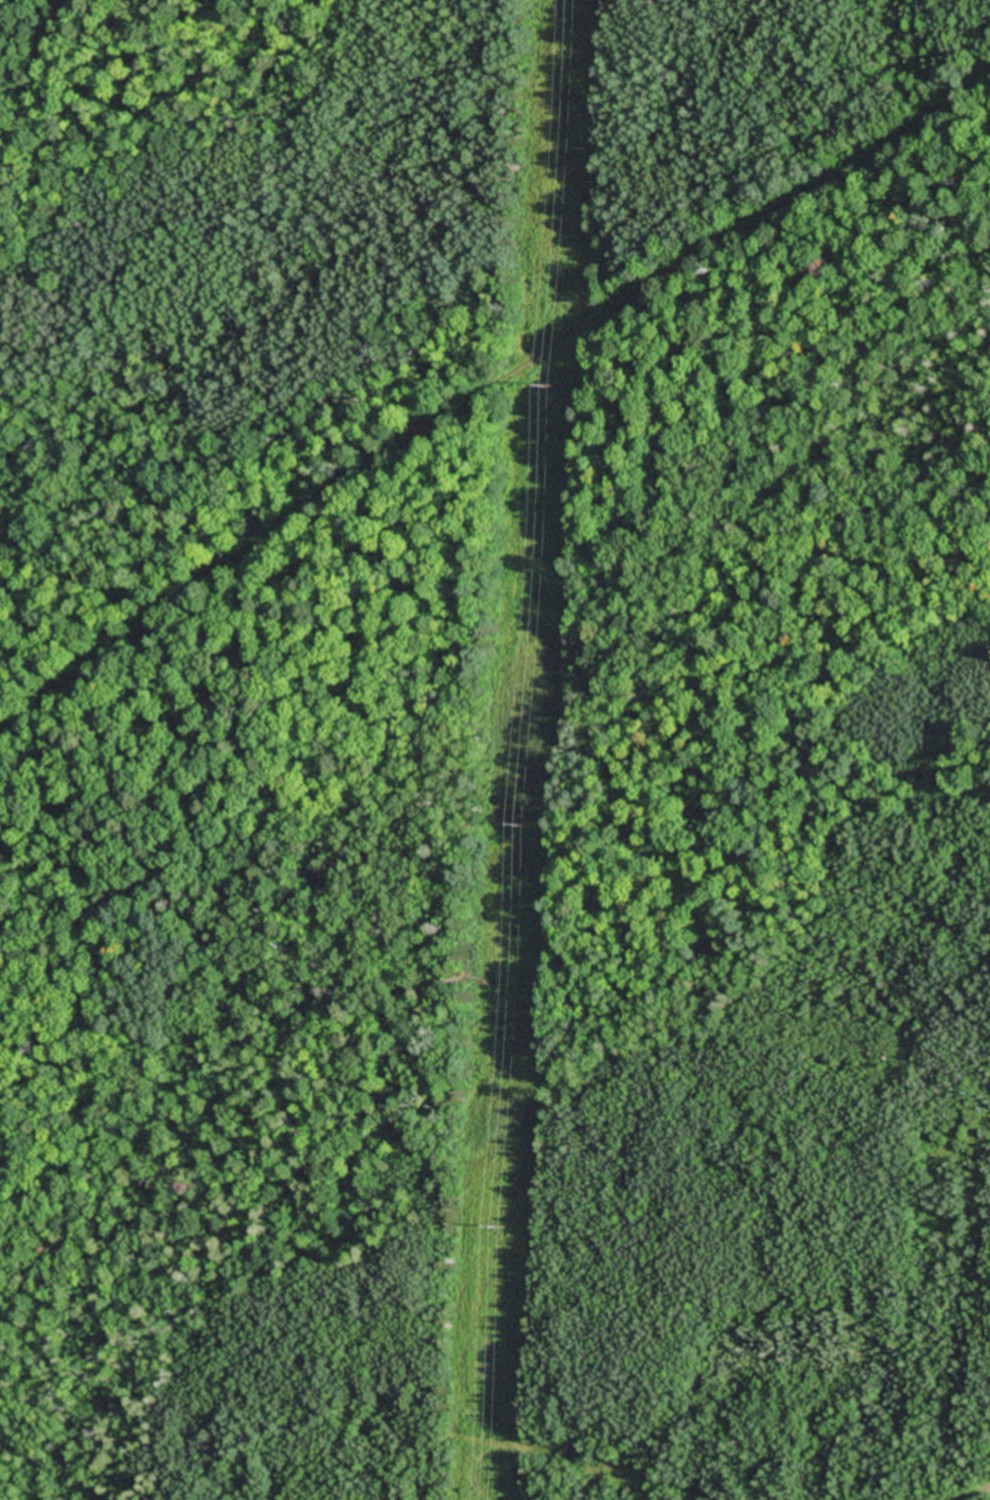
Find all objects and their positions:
road: (482, 364)
power tower: (550, 385)
power tower: (522, 824)
power tower: (501, 1227)

